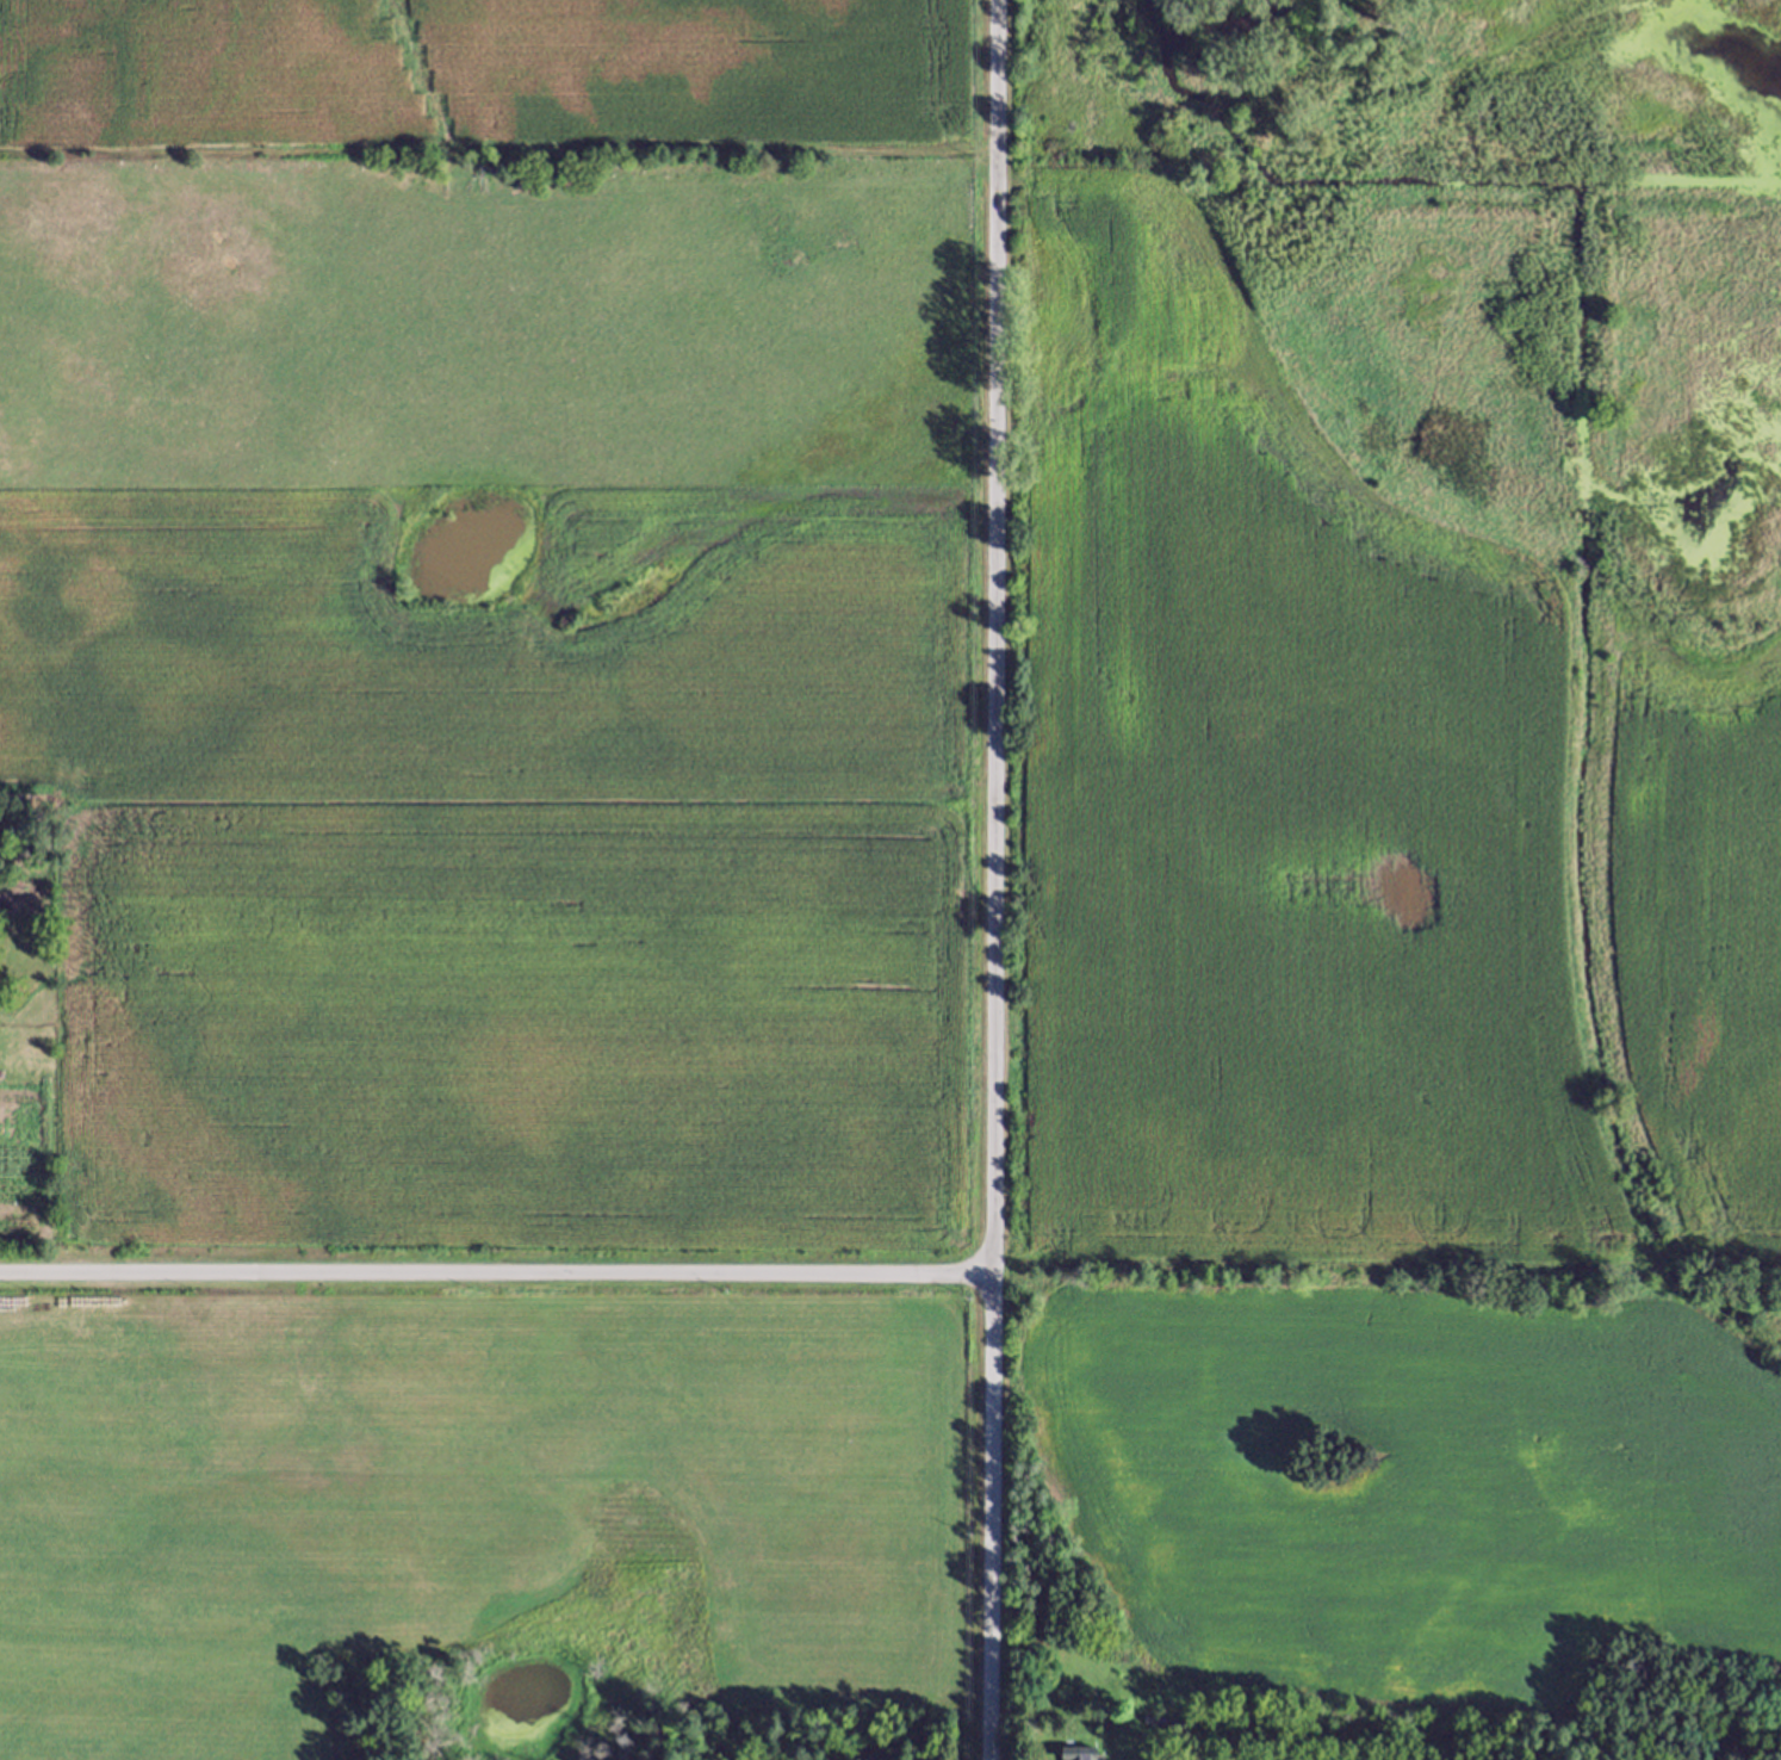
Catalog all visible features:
road: (992, 880)
road: (495, 1275)
building: (1075, 1759)

